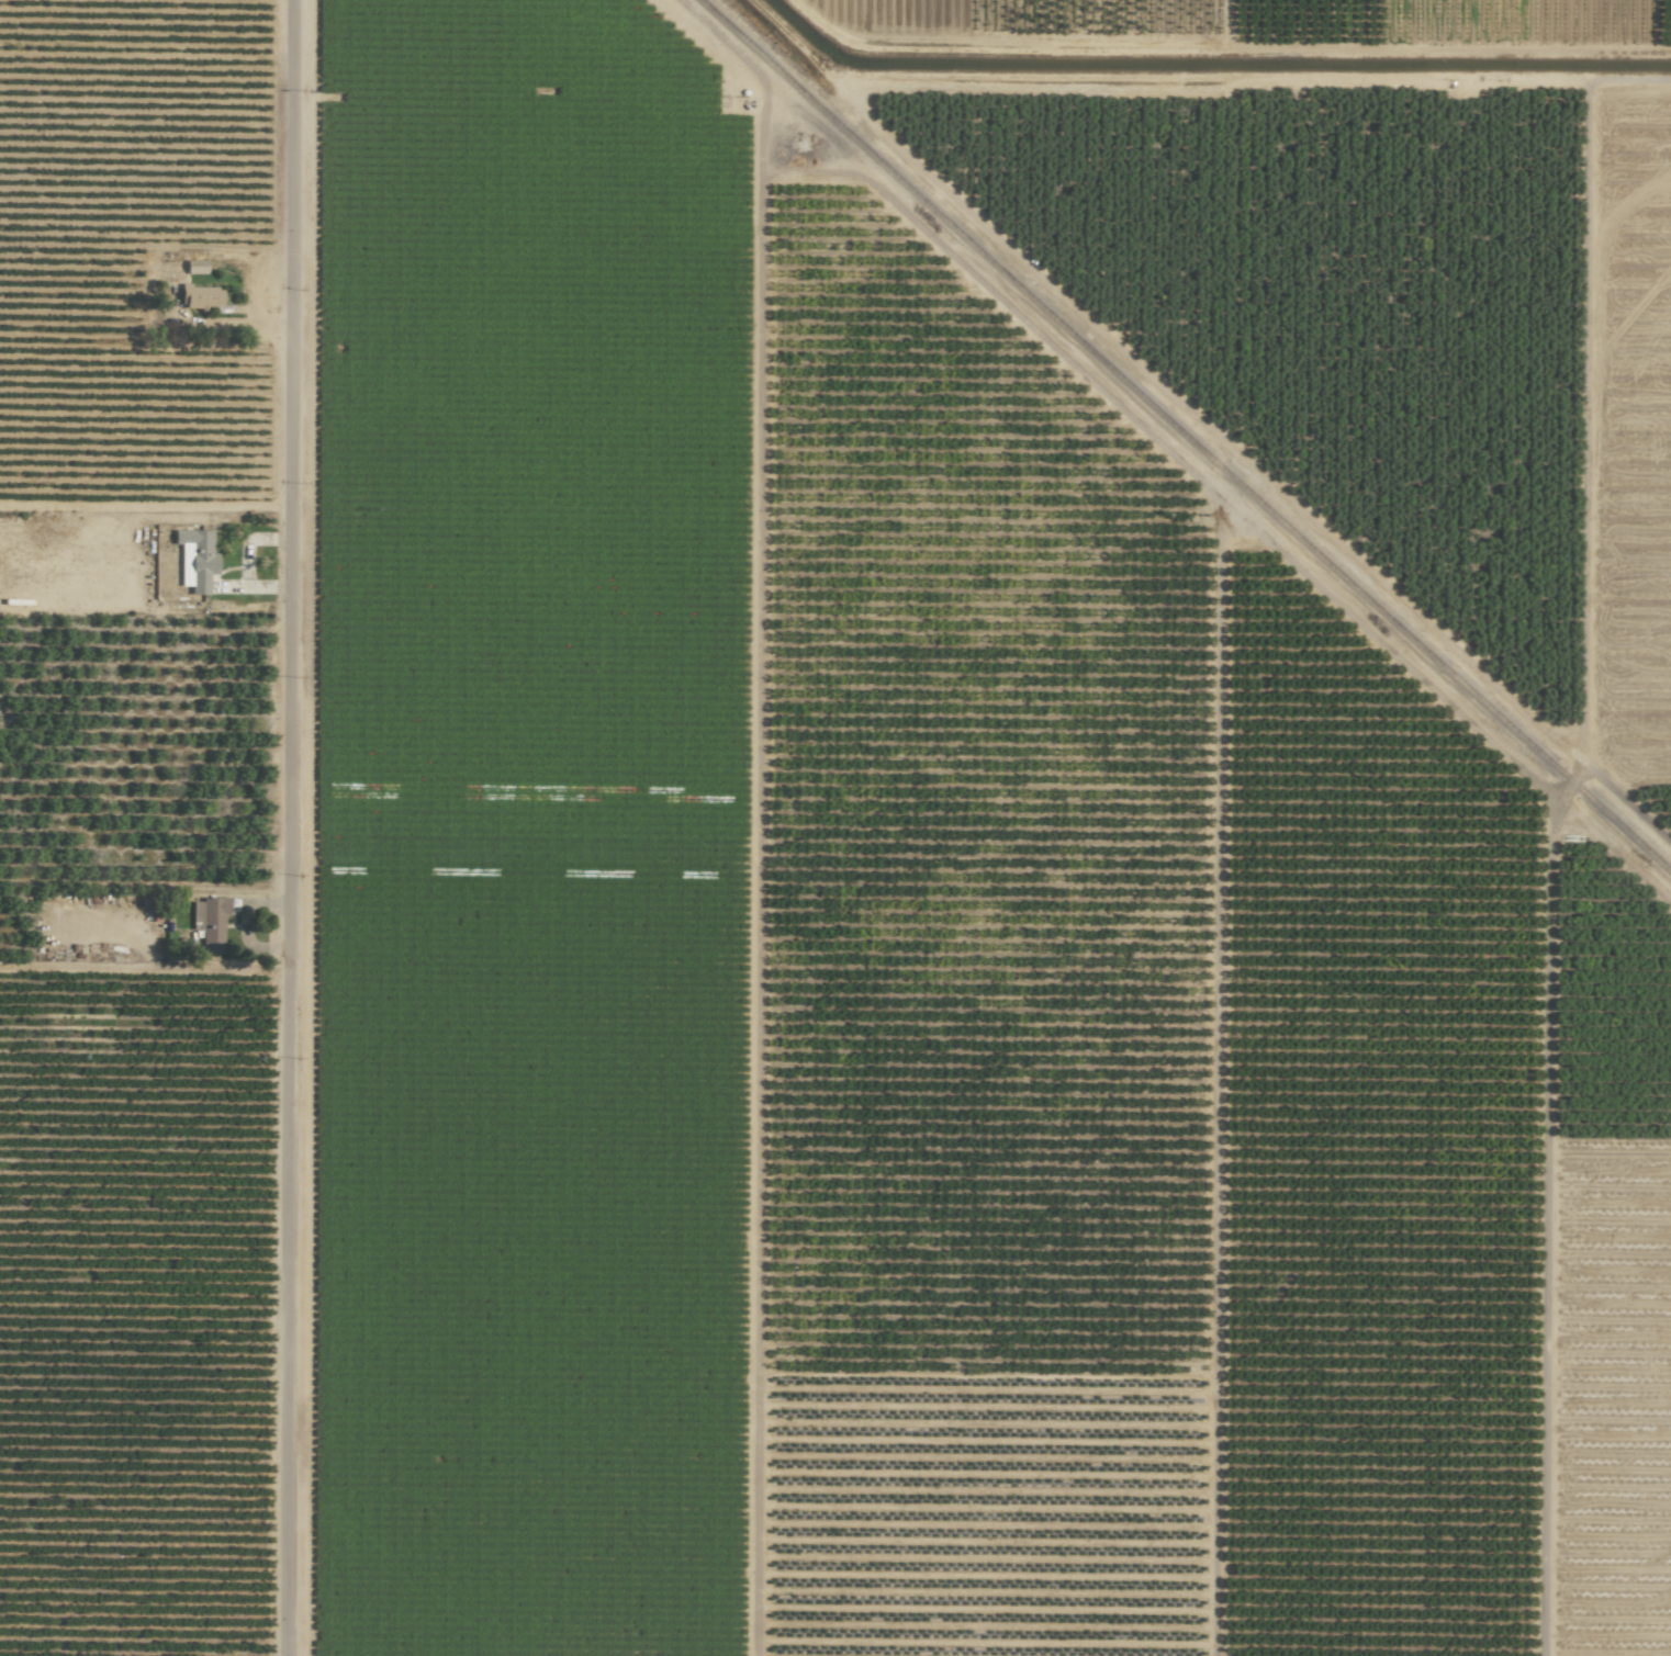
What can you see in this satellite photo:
building: (194, 267)
building: (200, 297)
railway: (1184, 436)
building: (195, 560)
road: (288, 827)
building: (209, 923)
road: (243, 926)

